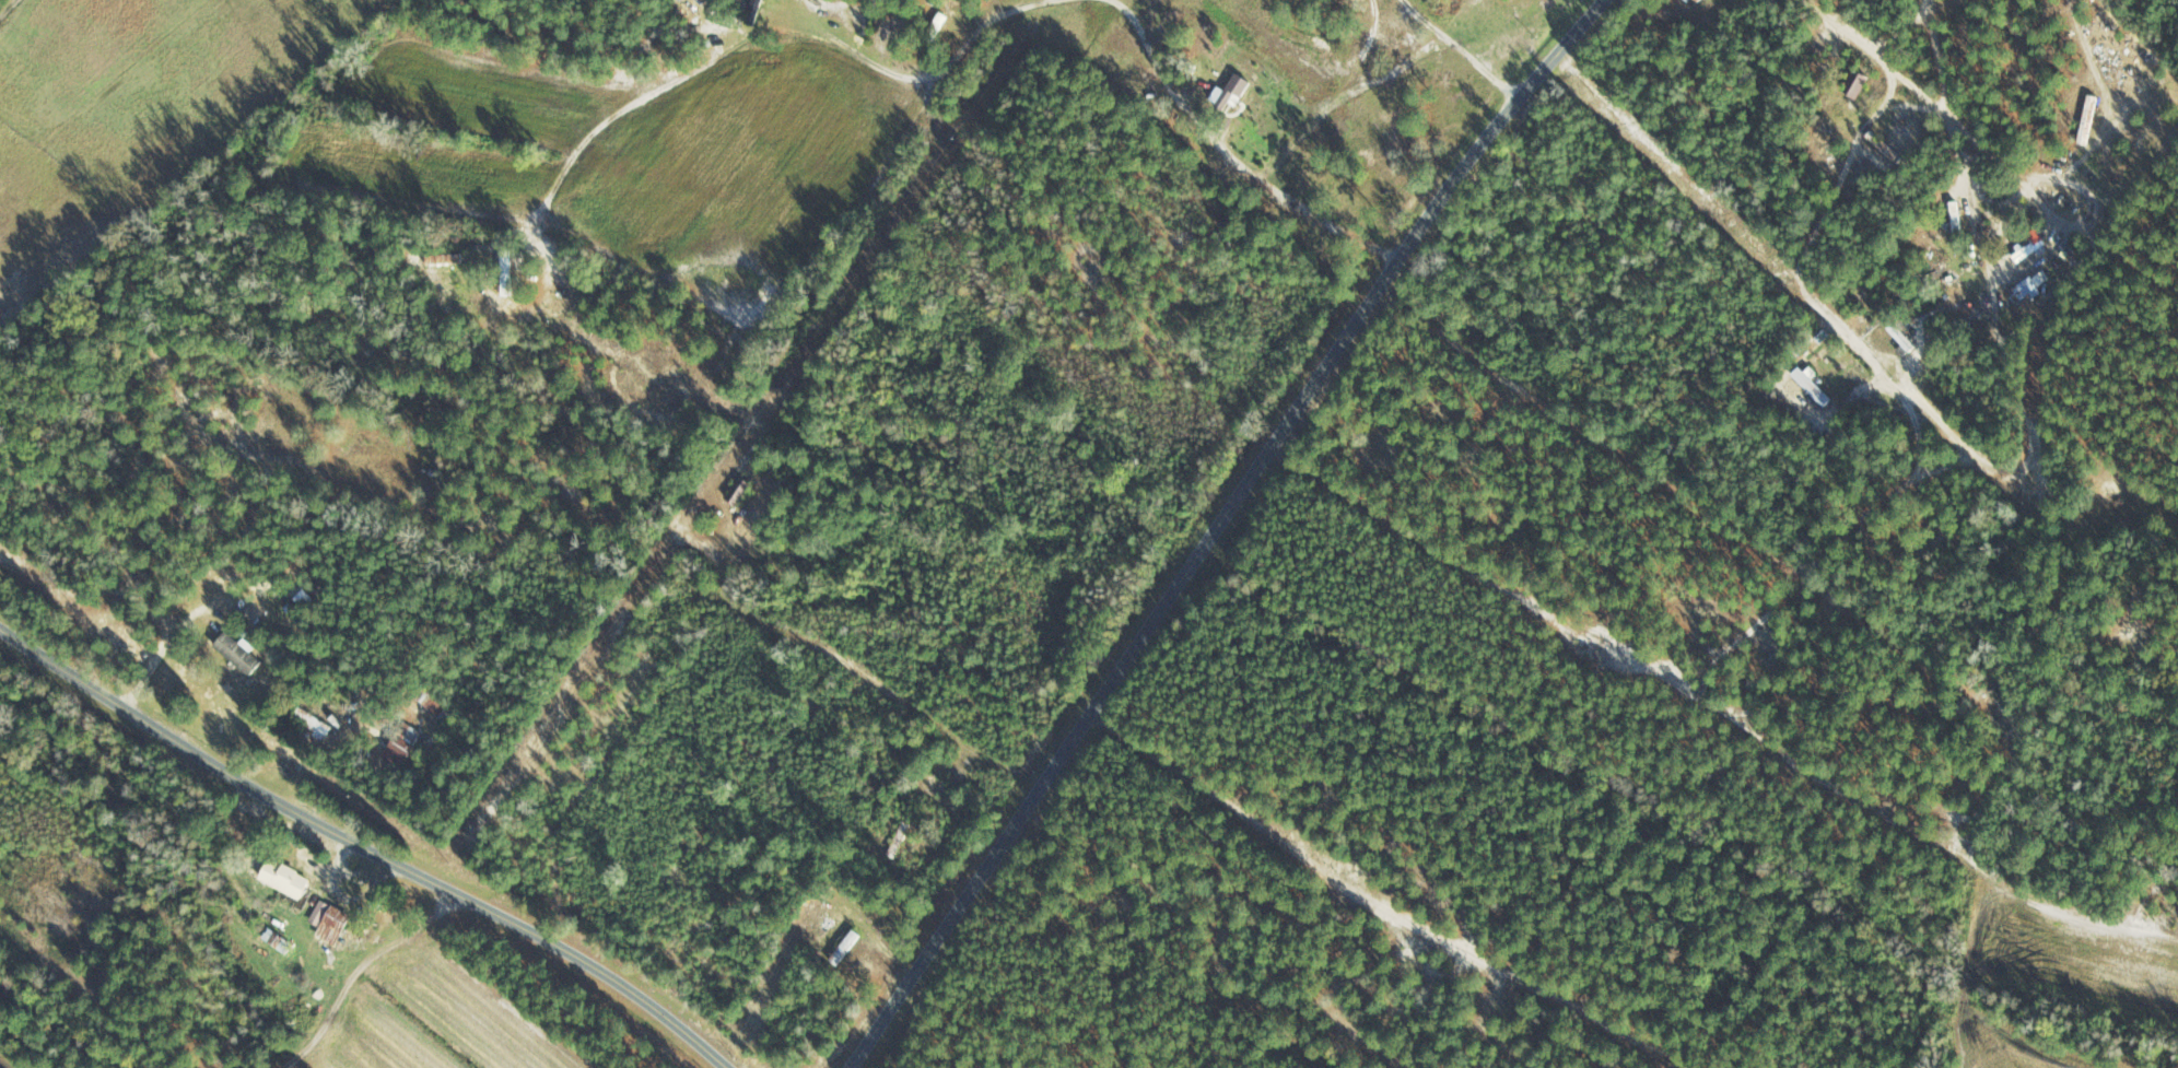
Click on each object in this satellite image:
building: (1694, 2)
building: (752, 11)
building: (938, 22)
road: (945, 69)
building: (1855, 84)
building: (1230, 92)
road: (197, 165)
building: (1955, 220)
building: (506, 278)
building: (2025, 292)
road: (339, 309)
building: (1900, 336)
building: (1811, 386)
building: (739, 491)
road: (2040, 500)
road: (1222, 519)
building: (237, 654)
building: (445, 713)
building: (313, 721)
building: (401, 744)
building: (899, 838)
road: (366, 847)
building: (284, 879)
building: (330, 916)
building: (845, 948)

